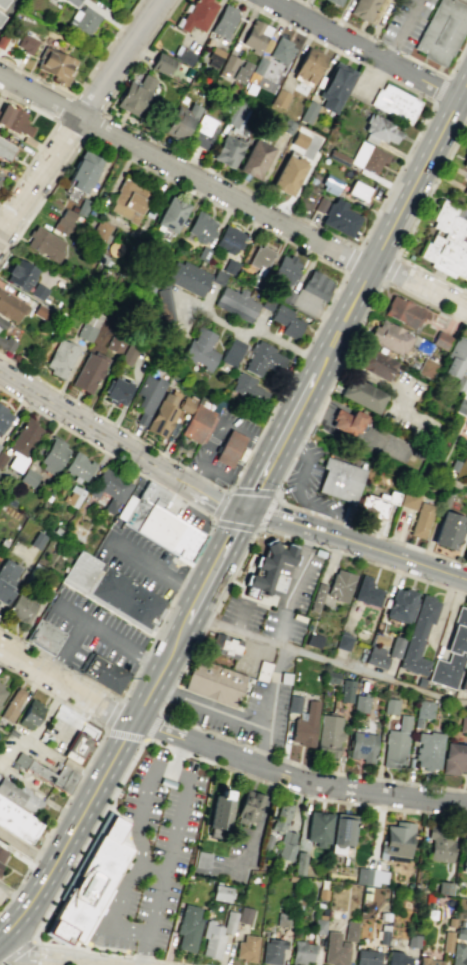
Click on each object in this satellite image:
building: (72, 2)
building: (332, 2)
building: (2, 3)
building: (364, 9)
building: (196, 15)
building: (0, 16)
building: (84, 19)
road: (337, 20)
building: (224, 21)
parking lot: (405, 23)
road: (401, 31)
building: (442, 31)
building: (255, 36)
building: (26, 43)
road: (387, 46)
building: (282, 51)
road: (337, 51)
road: (367, 53)
road: (137, 55)
building: (183, 55)
building: (55, 64)
building: (162, 64)
building: (308, 65)
building: (235, 68)
road: (441, 75)
road: (81, 82)
building: (334, 86)
road: (440, 91)
building: (134, 95)
building: (279, 98)
building: (394, 103)
road: (100, 111)
building: (307, 112)
building: (234, 114)
road: (79, 117)
building: (14, 120)
building: (180, 122)
building: (286, 127)
building: (378, 130)
building: (203, 132)
road: (45, 136)
building: (298, 140)
building: (5, 151)
building: (226, 151)
building: (367, 157)
building: (254, 159)
building: (464, 160)
building: (83, 171)
building: (0, 172)
building: (287, 175)
road: (395, 176)
building: (466, 176)
road: (229, 179)
building: (329, 184)
building: (358, 190)
building: (465, 190)
road: (231, 198)
building: (128, 200)
building: (466, 201)
building: (314, 202)
building: (171, 214)
road: (396, 215)
building: (339, 217)
building: (64, 221)
road: (412, 222)
building: (201, 227)
building: (99, 230)
building: (229, 239)
building: (445, 240)
building: (44, 244)
building: (203, 253)
building: (259, 258)
road: (351, 260)
building: (229, 266)
building: (285, 270)
road: (390, 270)
building: (20, 274)
building: (190, 278)
building: (218, 278)
road: (387, 283)
building: (315, 285)
building: (38, 291)
building: (268, 302)
road: (328, 302)
building: (165, 304)
building: (235, 304)
building: (11, 307)
building: (404, 311)
building: (286, 321)
building: (2, 324)
building: (89, 326)
road: (249, 331)
building: (390, 337)
building: (440, 340)
building: (6, 344)
building: (200, 349)
building: (232, 350)
building: (128, 355)
building: (60, 358)
building: (455, 358)
building: (263, 359)
road: (339, 364)
building: (375, 364)
building: (426, 367)
building: (89, 371)
road: (366, 377)
building: (248, 388)
building: (116, 391)
building: (361, 394)
building: (147, 398)
building: (462, 405)
building: (164, 416)
building: (3, 417)
building: (347, 422)
building: (196, 424)
road: (94, 426)
road: (220, 426)
road: (286, 430)
road: (84, 440)
building: (22, 443)
parking lot: (219, 446)
building: (228, 449)
road: (294, 449)
building: (53, 456)
building: (2, 458)
road: (289, 462)
building: (79, 466)
road: (214, 470)
building: (28, 477)
building: (340, 480)
parking lot: (308, 482)
building: (109, 490)
road: (252, 491)
building: (73, 496)
road: (178, 497)
road: (301, 497)
building: (408, 500)
road: (214, 501)
road: (178, 503)
road: (219, 504)
building: (375, 505)
traffic signals: (245, 509)
road: (266, 511)
road: (289, 520)
building: (421, 520)
building: (161, 523)
road: (336, 523)
road: (234, 525)
building: (447, 529)
road: (402, 541)
road: (400, 556)
parking lot: (143, 563)
building: (268, 566)
road: (157, 569)
building: (6, 578)
road: (204, 580)
building: (340, 584)
road: (294, 585)
building: (111, 591)
building: (367, 592)
road: (288, 593)
building: (317, 595)
parking lot: (283, 601)
building: (400, 605)
building: (21, 609)
road: (241, 618)
road: (157, 628)
parking lot: (91, 633)
building: (44, 636)
road: (112, 636)
building: (419, 636)
building: (313, 639)
building: (381, 640)
building: (343, 642)
road: (29, 645)
road: (253, 645)
building: (395, 646)
road: (68, 648)
building: (229, 648)
building: (452, 654)
building: (376, 657)
road: (326, 659)
road: (182, 665)
building: (262, 670)
building: (103, 672)
building: (330, 677)
building: (284, 678)
building: (420, 682)
building: (463, 682)
building: (213, 683)
road: (65, 685)
building: (2, 690)
building: (345, 691)
road: (268, 697)
road: (272, 698)
building: (360, 703)
building: (12, 704)
building: (294, 704)
building: (390, 706)
road: (208, 707)
parking lot: (246, 707)
building: (422, 708)
building: (31, 714)
building: (462, 725)
building: (305, 726)
road: (157, 729)
road: (121, 734)
building: (328, 734)
road: (101, 736)
building: (396, 744)
building: (77, 746)
building: (362, 747)
building: (428, 750)
building: (454, 759)
road: (256, 764)
building: (48, 773)
road: (120, 780)
road: (321, 785)
building: (18, 796)
road: (89, 798)
building: (248, 805)
road: (384, 808)
building: (219, 813)
building: (17, 822)
road: (256, 825)
building: (318, 828)
building: (283, 832)
building: (342, 832)
building: (397, 839)
building: (440, 844)
road: (25, 850)
parking lot: (153, 850)
building: (464, 852)
building: (2, 854)
road: (35, 855)
building: (202, 860)
building: (299, 863)
road: (153, 870)
building: (366, 877)
building: (90, 884)
road: (17, 885)
building: (443, 888)
building: (221, 893)
building: (321, 893)
building: (245, 915)
building: (283, 919)
building: (450, 921)
building: (229, 922)
road: (110, 925)
building: (318, 926)
building: (188, 927)
building: (349, 930)
building: (460, 933)
building: (382, 937)
building: (412, 940)
building: (211, 941)
building: (446, 941)
road: (67, 945)
road: (146, 946)
building: (246, 948)
building: (335, 949)
building: (272, 950)
road: (16, 951)
building: (302, 952)
building: (457, 954)
road: (27, 955)
road: (128, 957)
building: (366, 957)
building: (398, 959)
road: (22, 960)
building: (428, 961)
road: (54, 962)
road: (102, 962)
road: (10, 963)

